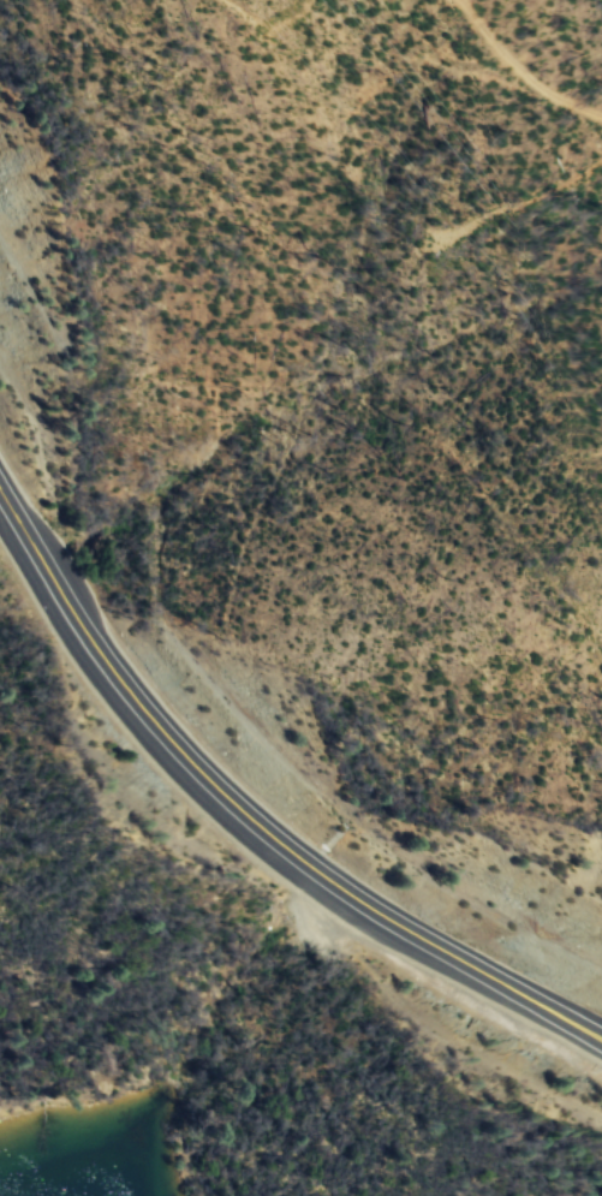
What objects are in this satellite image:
road: (254, 804)

